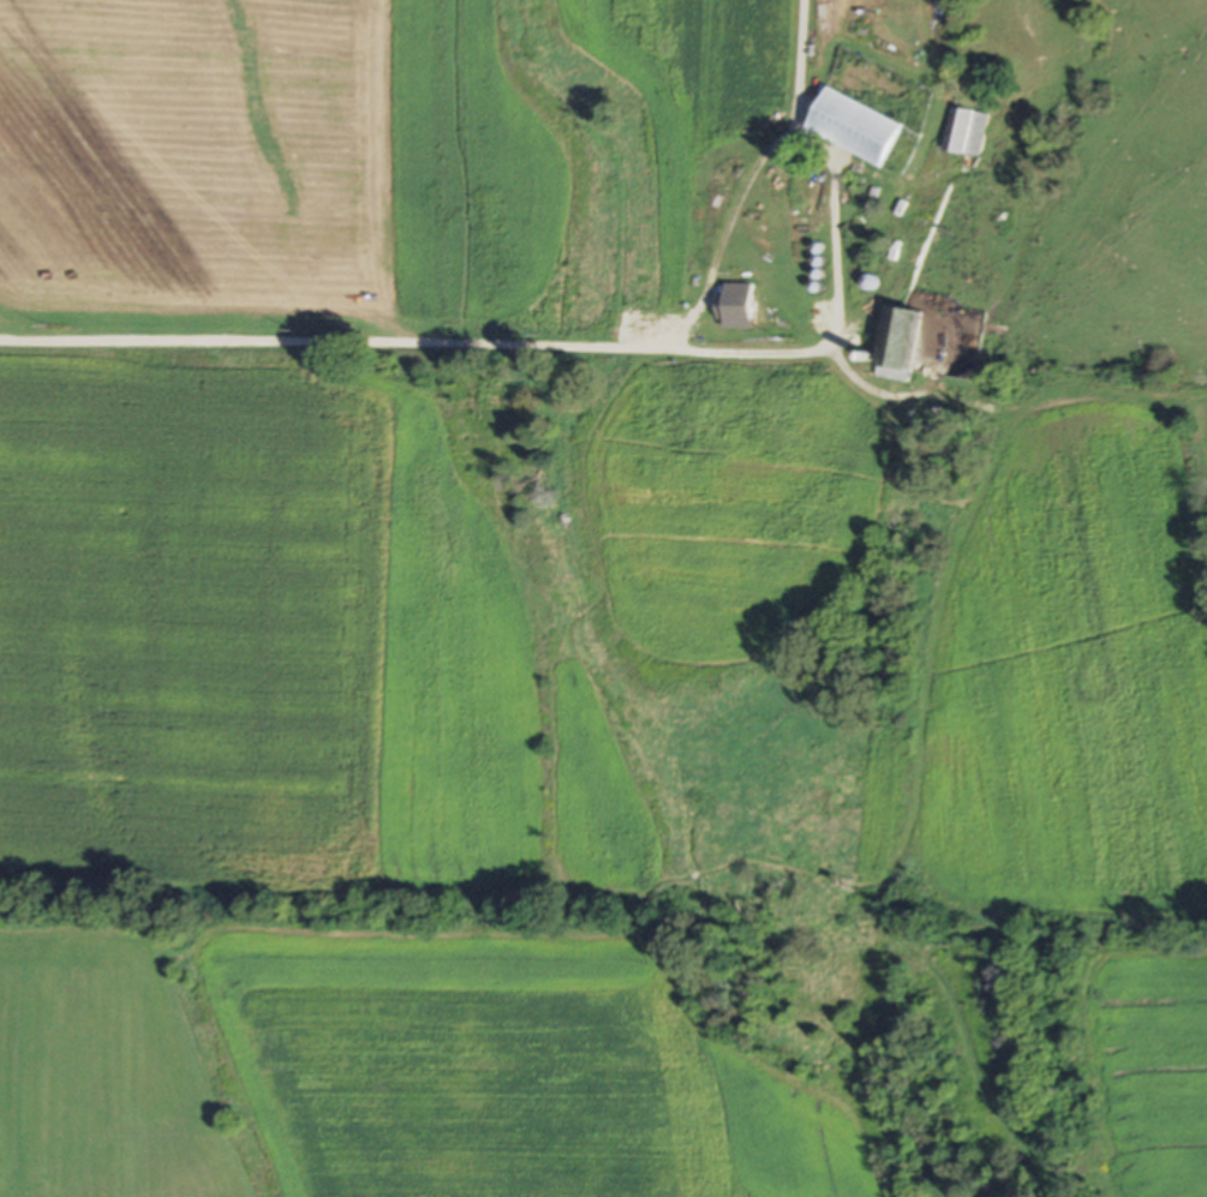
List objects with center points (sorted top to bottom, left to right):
building: (858, 127)
building: (969, 132)
building: (901, 345)
road: (600, 348)

